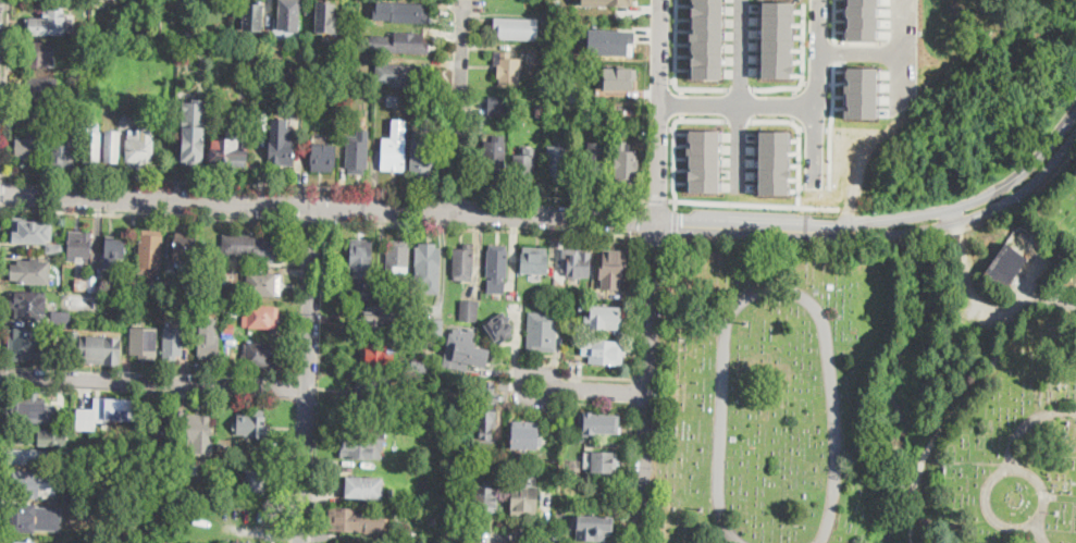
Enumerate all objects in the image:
building: (608, 2)
building: (307, 11)
building: (410, 13)
building: (288, 15)
building: (252, 16)
building: (325, 16)
building: (107, 17)
building: (209, 20)
building: (47, 24)
building: (516, 24)
building: (228, 33)
building: (705, 38)
building: (776, 38)
building: (408, 44)
building: (608, 47)
building: (552, 52)
building: (38, 53)
road: (859, 53)
road: (902, 59)
building: (573, 61)
road: (802, 67)
building: (508, 69)
road: (675, 70)
building: (405, 76)
building: (348, 77)
building: (604, 78)
building: (38, 88)
building: (272, 88)
building: (347, 88)
road: (741, 88)
road: (4, 89)
road: (795, 89)
road: (815, 89)
road: (740, 94)
building: (573, 99)
road: (682, 101)
building: (499, 103)
road: (735, 104)
road: (794, 104)
road: (458, 107)
road: (657, 110)
building: (540, 111)
road: (682, 116)
road: (792, 119)
road: (740, 120)
building: (261, 121)
building: (553, 131)
building: (194, 132)
road: (800, 134)
road: (675, 137)
building: (281, 144)
building: (26, 147)
building: (92, 147)
building: (111, 147)
building: (64, 149)
building: (139, 149)
building: (227, 150)
building: (357, 153)
building: (393, 155)
building: (421, 155)
building: (493, 156)
building: (322, 158)
building: (703, 160)
building: (772, 161)
building: (558, 163)
building: (592, 163)
building: (524, 164)
building: (626, 164)
road: (224, 181)
road: (1025, 182)
road: (455, 192)
road: (556, 195)
road: (657, 198)
road: (731, 201)
road: (327, 207)
road: (150, 212)
road: (314, 221)
road: (675, 223)
road: (483, 227)
road: (806, 230)
road: (656, 236)
building: (30, 238)
road: (890, 239)
building: (79, 245)
building: (55, 247)
building: (184, 247)
building: (247, 247)
building: (113, 252)
building: (150, 252)
building: (398, 257)
building: (426, 258)
building: (534, 260)
building: (576, 262)
building: (462, 263)
building: (122, 267)
building: (361, 268)
building: (497, 268)
building: (613, 268)
building: (1004, 268)
building: (30, 271)
road: (969, 274)
building: (86, 284)
building: (263, 284)
building: (135, 286)
building: (100, 288)
building: (170, 288)
road: (772, 289)
building: (189, 292)
building: (405, 296)
building: (189, 303)
building: (403, 306)
road: (636, 307)
building: (685, 307)
building: (38, 309)
building: (469, 310)
building: (260, 317)
building: (378, 317)
building: (604, 318)
building: (432, 326)
building: (499, 328)
building: (228, 329)
building: (542, 332)
building: (145, 343)
building: (172, 343)
building: (232, 343)
building: (25, 344)
building: (95, 346)
building: (208, 346)
building: (604, 351)
building: (260, 354)
building: (375, 356)
building: (463, 356)
building: (51, 358)
building: (418, 365)
building: (399, 367)
road: (306, 374)
road: (596, 375)
road: (152, 381)
road: (647, 382)
road: (581, 386)
park: (876, 386)
building: (373, 390)
road: (633, 392)
road: (967, 397)
building: (84, 399)
building: (61, 403)
building: (487, 408)
building: (29, 409)
building: (107, 411)
building: (598, 423)
road: (1027, 423)
building: (252, 425)
building: (197, 428)
building: (162, 429)
building: (525, 435)
building: (35, 437)
building: (376, 443)
building: (224, 446)
building: (22, 456)
building: (601, 461)
building: (75, 462)
building: (187, 466)
building: (486, 466)
road: (1018, 468)
building: (220, 473)
road: (628, 473)
building: (129, 477)
building: (560, 478)
building: (256, 482)
building: (778, 482)
building: (32, 484)
building: (363, 488)
building: (523, 498)
building: (484, 503)
building: (74, 506)
building: (24, 516)
building: (347, 520)
building: (926, 522)
building: (593, 528)
road: (1039, 532)
building: (396, 535)
road: (533, 535)
building: (173, 541)
building: (20, 542)
building: (88, 542)
building: (244, 542)

